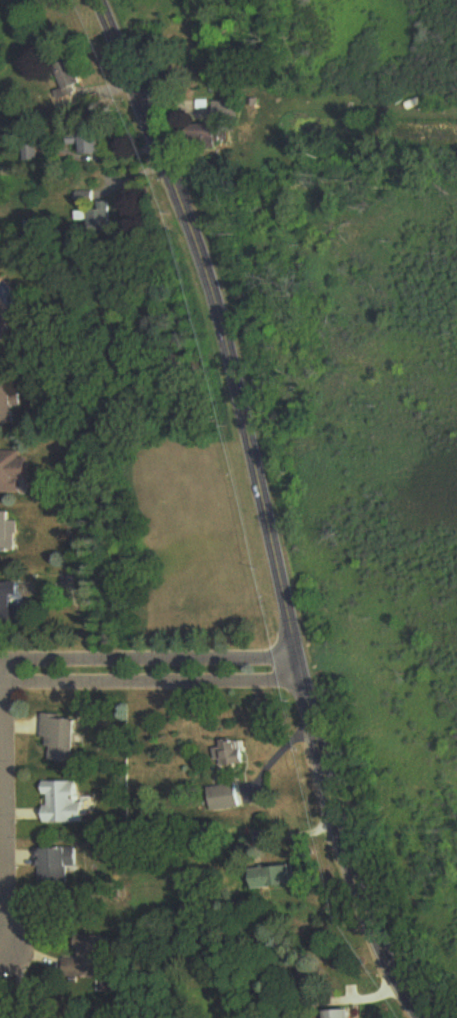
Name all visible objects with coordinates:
building: (71, 87)
building: (211, 134)
building: (93, 144)
building: (98, 224)
building: (2, 334)
building: (12, 404)
building: (16, 472)
road: (263, 508)
building: (10, 531)
building: (12, 604)
road: (150, 671)
building: (66, 738)
building: (237, 754)
building: (230, 798)
building: (66, 803)
road: (9, 805)
building: (57, 868)
building: (284, 878)
road: (2, 944)
building: (92, 961)
building: (346, 1015)
building: (25, 1017)

